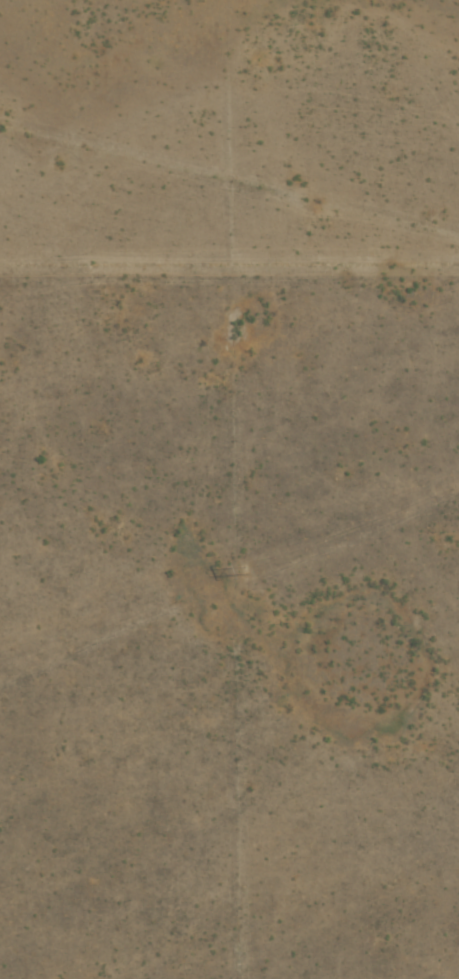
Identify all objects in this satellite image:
power tower: (247, 572)

